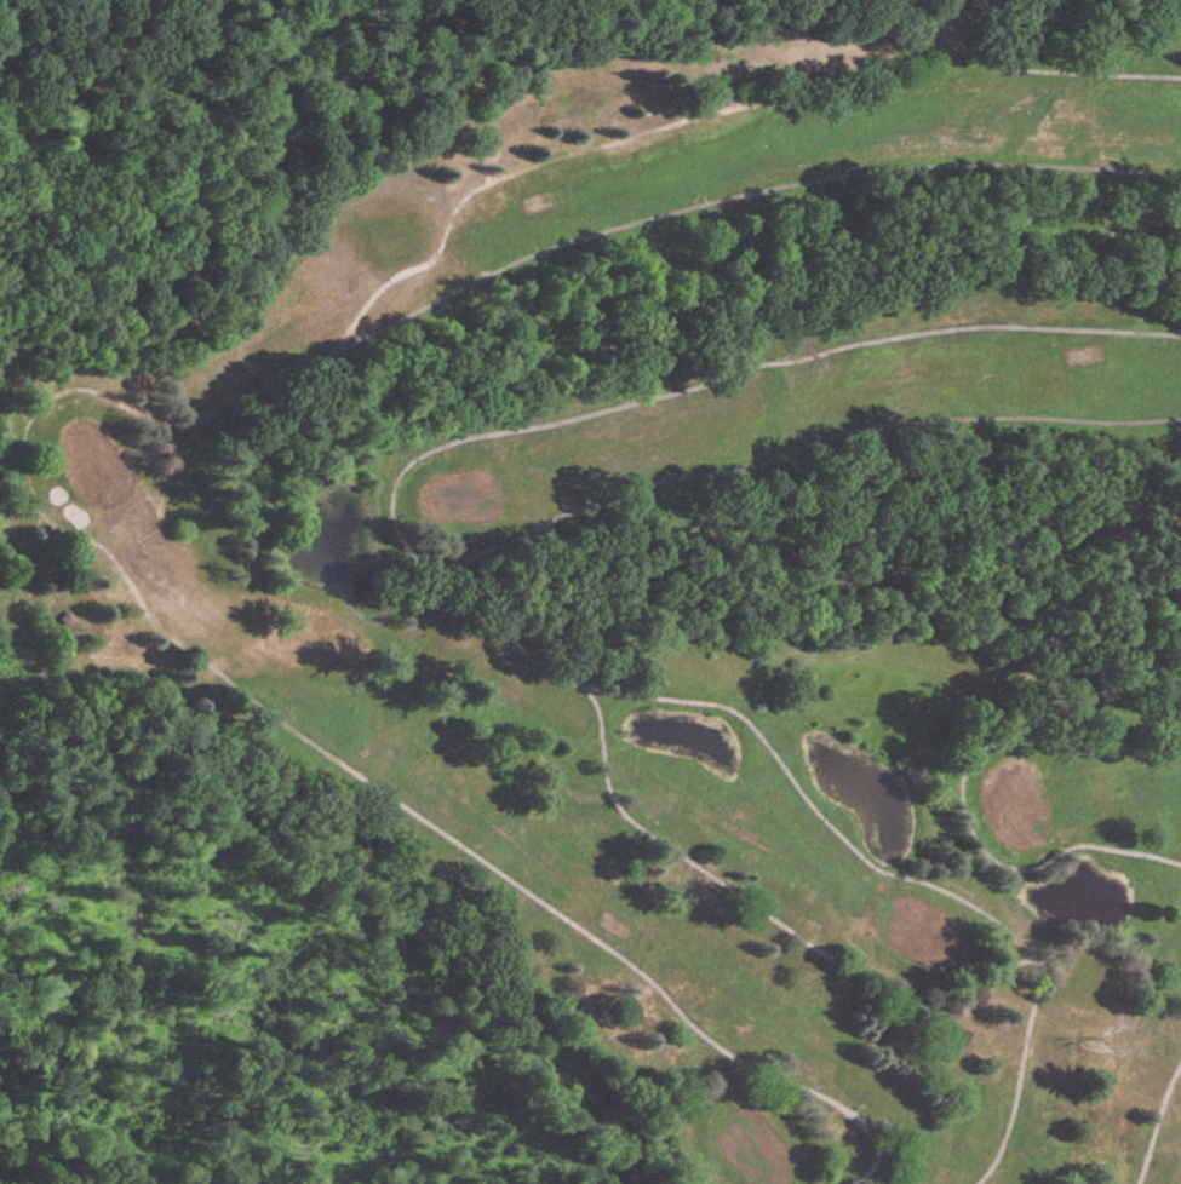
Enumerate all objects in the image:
park: (589, 607)

